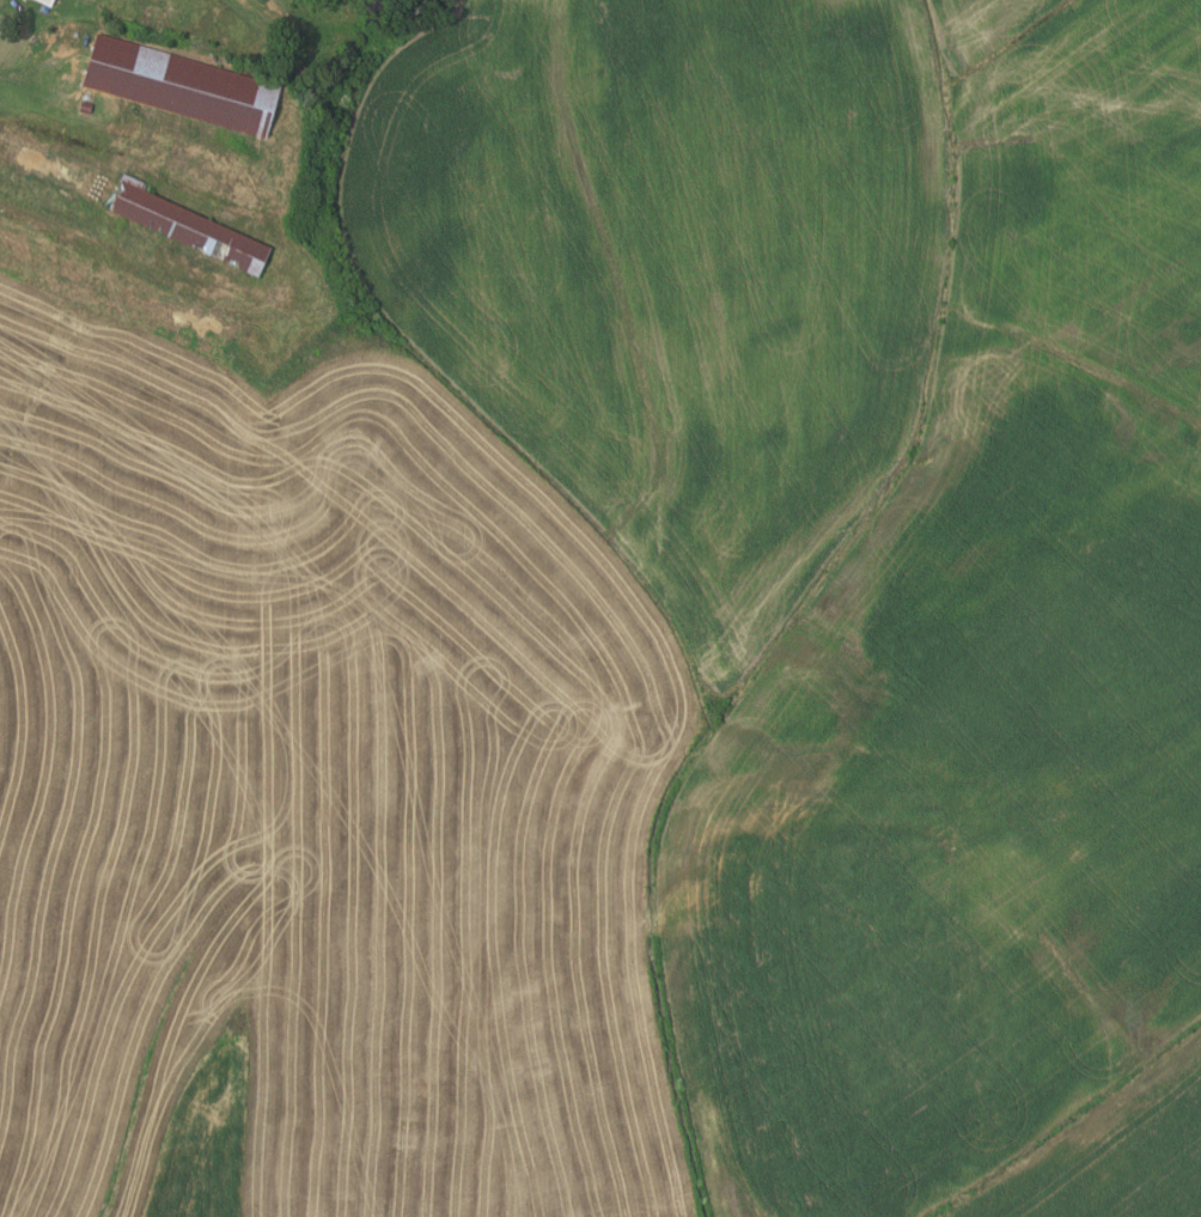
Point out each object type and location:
building: (45, 2)
building: (154, 14)
building: (181, 86)
building: (84, 108)
building: (185, 226)
building: (120, 286)
crop: (639, 649)

